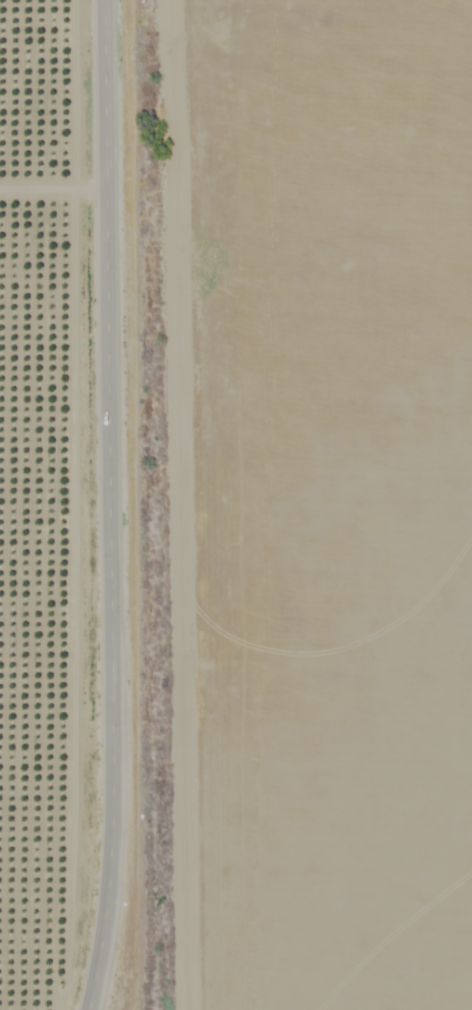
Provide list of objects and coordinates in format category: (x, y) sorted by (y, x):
road: (108, 506)
crop: (55, 508)

